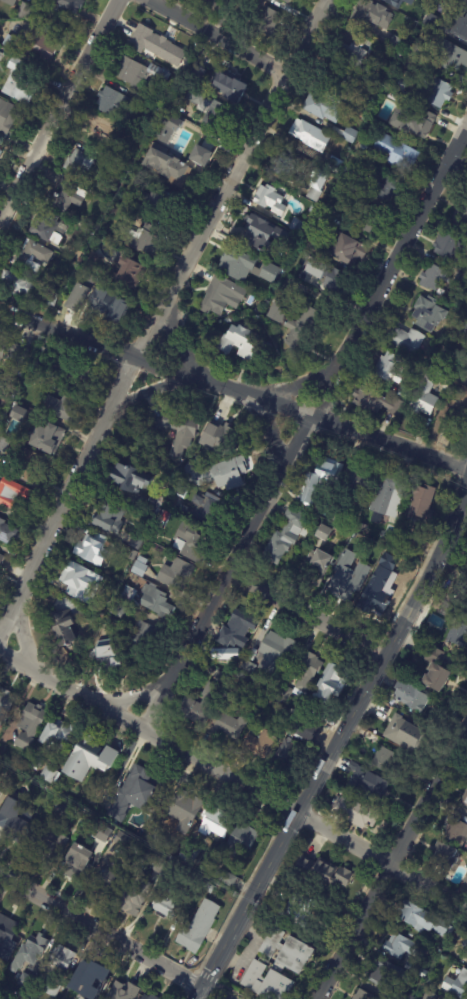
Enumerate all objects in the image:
building: (7, 1)
building: (287, 1)
building: (465, 1)
building: (397, 2)
building: (212, 3)
building: (63, 5)
building: (408, 5)
building: (23, 9)
building: (374, 13)
building: (35, 18)
building: (431, 20)
building: (270, 23)
building: (461, 24)
road: (222, 36)
building: (395, 42)
building: (159, 47)
building: (39, 48)
building: (414, 50)
building: (354, 51)
building: (448, 54)
building: (138, 73)
building: (336, 76)
building: (18, 82)
building: (398, 82)
building: (229, 88)
building: (436, 90)
building: (111, 100)
building: (144, 102)
building: (362, 102)
building: (322, 107)
building: (208, 108)
road: (60, 110)
building: (8, 115)
building: (412, 121)
building: (167, 123)
building: (96, 131)
building: (345, 134)
building: (310, 136)
building: (194, 144)
building: (0, 150)
building: (363, 151)
building: (0, 153)
building: (396, 153)
building: (125, 161)
building: (77, 162)
building: (332, 164)
building: (283, 165)
road: (457, 166)
building: (111, 167)
building: (170, 168)
building: (346, 178)
building: (384, 188)
building: (313, 195)
building: (65, 197)
building: (269, 199)
building: (152, 206)
building: (314, 209)
building: (330, 214)
building: (459, 215)
building: (369, 219)
building: (250, 226)
building: (45, 227)
building: (298, 227)
building: (93, 228)
building: (141, 239)
building: (312, 244)
building: (448, 246)
building: (348, 250)
building: (31, 255)
building: (283, 259)
building: (94, 263)
building: (234, 263)
building: (295, 271)
building: (269, 272)
building: (129, 273)
building: (328, 275)
building: (109, 276)
building: (433, 278)
building: (461, 278)
building: (17, 286)
building: (220, 294)
building: (51, 299)
building: (108, 306)
building: (465, 306)
building: (278, 307)
road: (157, 312)
building: (428, 314)
building: (226, 321)
building: (464, 329)
building: (303, 330)
building: (405, 340)
road: (174, 341)
building: (243, 344)
building: (14, 352)
building: (39, 359)
building: (390, 368)
building: (75, 372)
building: (1, 381)
road: (294, 387)
road: (148, 388)
road: (234, 391)
building: (404, 392)
building: (425, 393)
building: (376, 402)
building: (0, 405)
building: (61, 408)
building: (454, 409)
building: (18, 414)
road: (304, 427)
building: (175, 428)
building: (46, 439)
building: (213, 439)
road: (269, 439)
building: (22, 460)
building: (320, 472)
building: (217, 474)
building: (130, 478)
building: (357, 482)
building: (180, 490)
building: (11, 492)
building: (388, 495)
building: (421, 504)
building: (153, 505)
building: (322, 505)
building: (204, 510)
building: (337, 516)
building: (108, 518)
building: (314, 521)
building: (322, 531)
building: (7, 534)
building: (286, 535)
building: (387, 540)
building: (135, 542)
building: (403, 543)
building: (189, 544)
building: (352, 548)
building: (90, 549)
building: (1, 559)
building: (398, 563)
building: (316, 565)
building: (138, 567)
building: (175, 576)
building: (74, 577)
building: (347, 582)
building: (441, 594)
building: (127, 596)
building: (154, 601)
building: (101, 605)
building: (374, 606)
building: (118, 611)
building: (447, 611)
building: (466, 612)
road: (308, 615)
building: (65, 620)
building: (236, 631)
building: (458, 634)
road: (21, 638)
building: (144, 638)
building: (273, 653)
building: (105, 654)
building: (225, 655)
building: (433, 668)
building: (244, 671)
building: (307, 672)
building: (329, 683)
building: (284, 695)
building: (410, 697)
road: (136, 698)
building: (202, 702)
building: (4, 704)
building: (385, 711)
building: (319, 714)
building: (28, 726)
building: (228, 726)
building: (404, 730)
road: (339, 737)
building: (370, 738)
building: (50, 743)
building: (287, 743)
building: (258, 744)
building: (383, 761)
building: (88, 762)
building: (47, 775)
building: (352, 775)
road: (234, 778)
building: (149, 786)
building: (372, 787)
building: (18, 792)
building: (94, 798)
building: (463, 801)
building: (183, 809)
building: (58, 810)
building: (355, 813)
building: (120, 819)
building: (216, 824)
building: (16, 826)
building: (103, 833)
building: (456, 833)
building: (156, 837)
building: (121, 840)
building: (178, 842)
building: (241, 842)
building: (49, 846)
building: (188, 855)
building: (444, 858)
road: (391, 863)
building: (76, 864)
building: (321, 874)
building: (466, 874)
building: (110, 880)
building: (227, 880)
building: (465, 880)
building: (196, 882)
building: (209, 889)
building: (137, 895)
building: (170, 901)
building: (298, 910)
building: (422, 920)
building: (198, 928)
road: (102, 929)
building: (6, 932)
building: (464, 944)
building: (403, 949)
building: (29, 950)
building: (465, 950)
building: (58, 959)
building: (276, 967)
building: (416, 971)
building: (387, 975)
building: (91, 978)
building: (24, 981)
building: (430, 983)
building: (457, 985)
building: (50, 988)
building: (121, 991)
road: (201, 992)
road: (217, 992)
building: (154, 995)
building: (362, 995)
building: (404, 996)
building: (430, 996)

